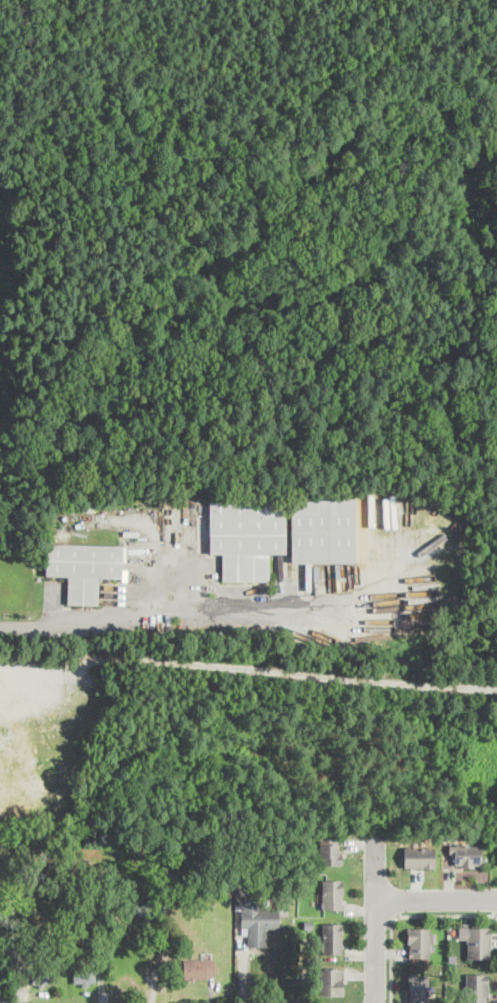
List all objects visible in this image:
building: (142, 497)
building: (322, 529)
building: (246, 534)
building: (84, 569)
road: (167, 614)
building: (329, 849)
building: (465, 854)
building: (418, 857)
building: (332, 894)
road: (436, 899)
building: (139, 907)
road: (402, 914)
road: (375, 915)
building: (256, 919)
building: (331, 938)
building: (419, 941)
building: (477, 942)
building: (198, 968)
building: (40, 974)
building: (84, 974)
building: (332, 980)
building: (418, 988)
building: (477, 988)

